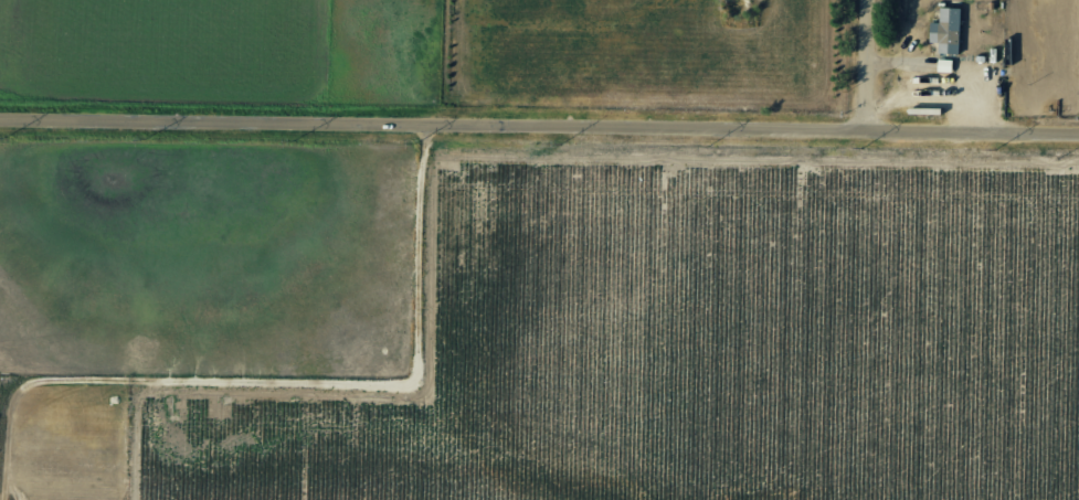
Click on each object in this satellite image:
building: (945, 30)
road: (877, 71)
road: (539, 141)
road: (696, 142)
road: (292, 389)

